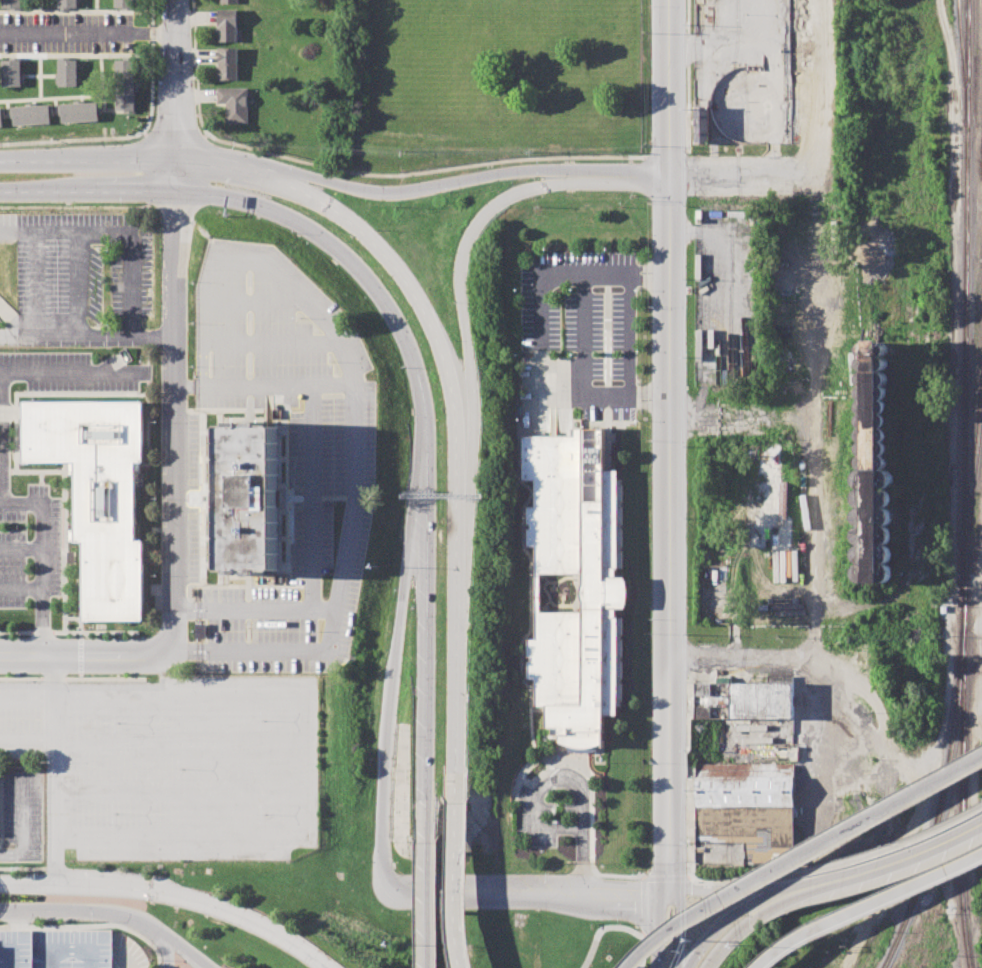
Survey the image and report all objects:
building: (229, 1)
building: (13, 4)
building: (67, 4)
building: (126, 4)
building: (228, 25)
parking lot: (66, 32)
road: (88, 33)
railway: (963, 59)
building: (229, 63)
building: (66, 72)
building: (11, 73)
road: (177, 79)
building: (125, 83)
road: (671, 86)
building: (234, 104)
building: (1, 112)
building: (79, 112)
building: (31, 115)
building: (0, 118)
building: (702, 123)
road: (89, 159)
road: (226, 167)
road: (741, 172)
road: (177, 175)
road: (472, 180)
road: (88, 193)
road: (74, 207)
road: (18, 231)
road: (331, 245)
road: (35, 257)
road: (623, 272)
parking lot: (83, 278)
road: (577, 281)
road: (79, 284)
railway: (965, 296)
road: (629, 335)
parking lot: (285, 361)
road: (70, 374)
road: (265, 386)
road: (811, 407)
road: (0, 412)
road: (176, 417)
road: (742, 423)
road: (353, 424)
parking lot: (4, 437)
road: (1, 438)
building: (873, 441)
road: (455, 450)
road: (0, 464)
railway: (972, 479)
building: (96, 493)
building: (249, 498)
road: (672, 534)
road: (20, 548)
road: (41, 561)
building: (574, 583)
road: (20, 589)
road: (429, 589)
parking lot: (289, 603)
road: (256, 607)
building: (198, 630)
road: (398, 638)
road: (744, 654)
road: (87, 658)
building: (762, 707)
road: (296, 722)
parking lot: (170, 767)
road: (296, 769)
road: (51, 771)
railway: (962, 780)
road: (571, 782)
railway: (945, 785)
road: (922, 799)
parking lot: (19, 815)
building: (744, 815)
road: (296, 817)
road: (21, 826)
road: (799, 853)
road: (914, 854)
road: (867, 857)
road: (714, 881)
road: (428, 882)
road: (795, 882)
road: (454, 883)
road: (643, 883)
road: (25, 885)
road: (794, 886)
road: (711, 893)
road: (628, 898)
road: (796, 898)
road: (487, 899)
road: (197, 901)
road: (866, 905)
road: (85, 912)
road: (91, 925)
road: (658, 928)
road: (601, 929)
road: (682, 930)
road: (716, 931)
road: (728, 942)
road: (72, 949)
parking lot: (68, 950)
road: (641, 950)
road: (11, 953)
road: (168, 953)
road: (183, 953)
building: (836, 958)

